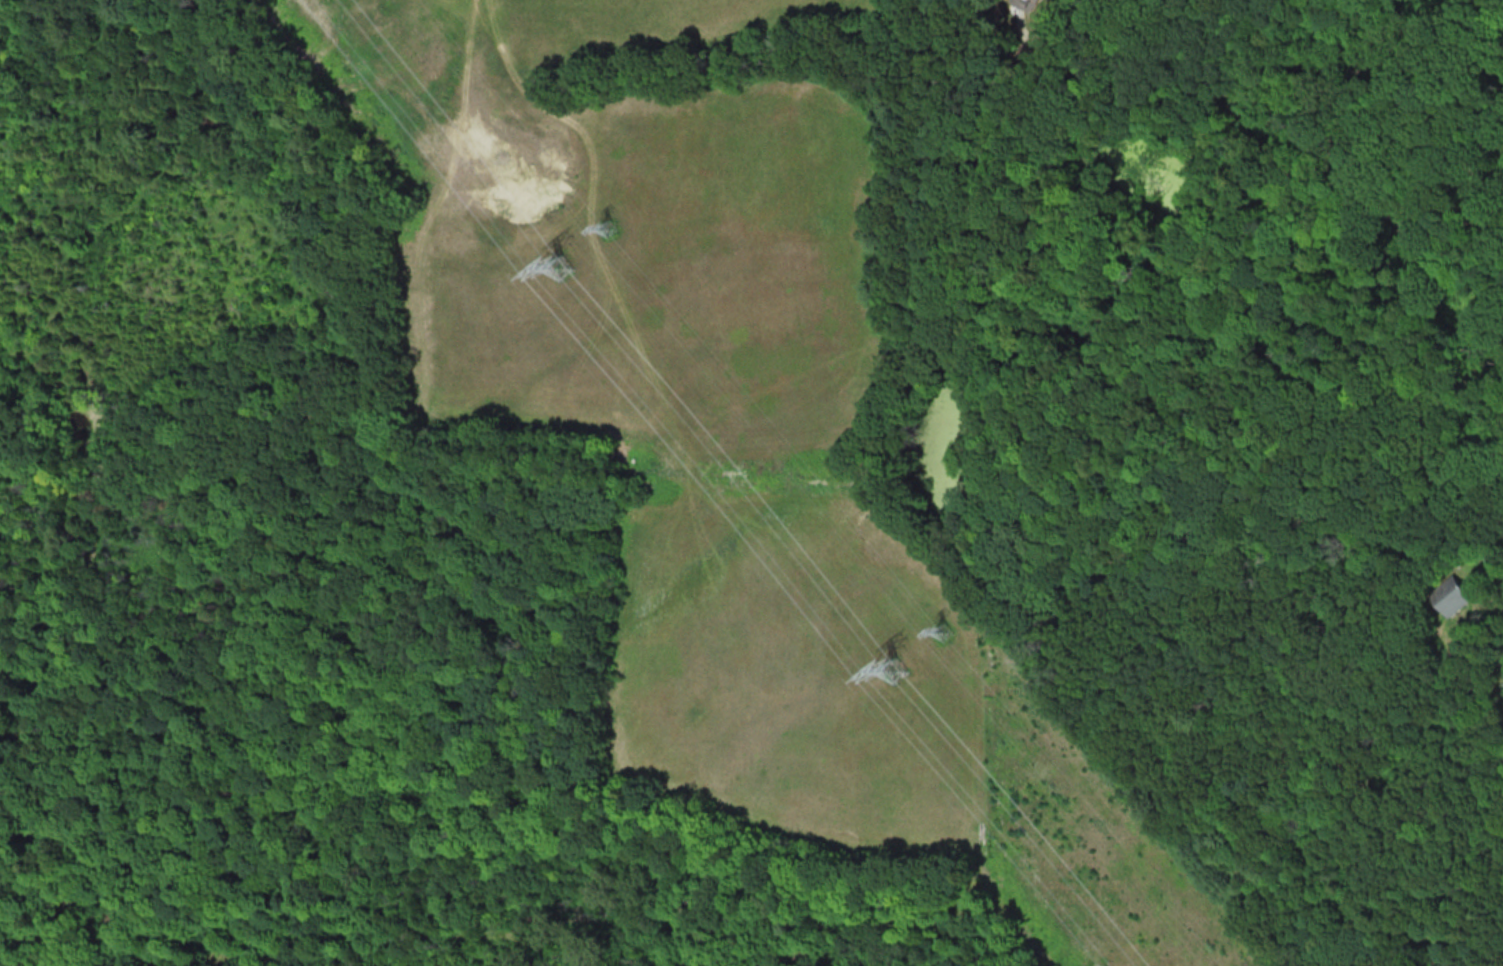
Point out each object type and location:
road: (1472, 29)
power tower: (611, 227)
power tower: (563, 265)
road: (1485, 518)
building: (1448, 596)
power tower: (945, 630)
power tower: (895, 668)

